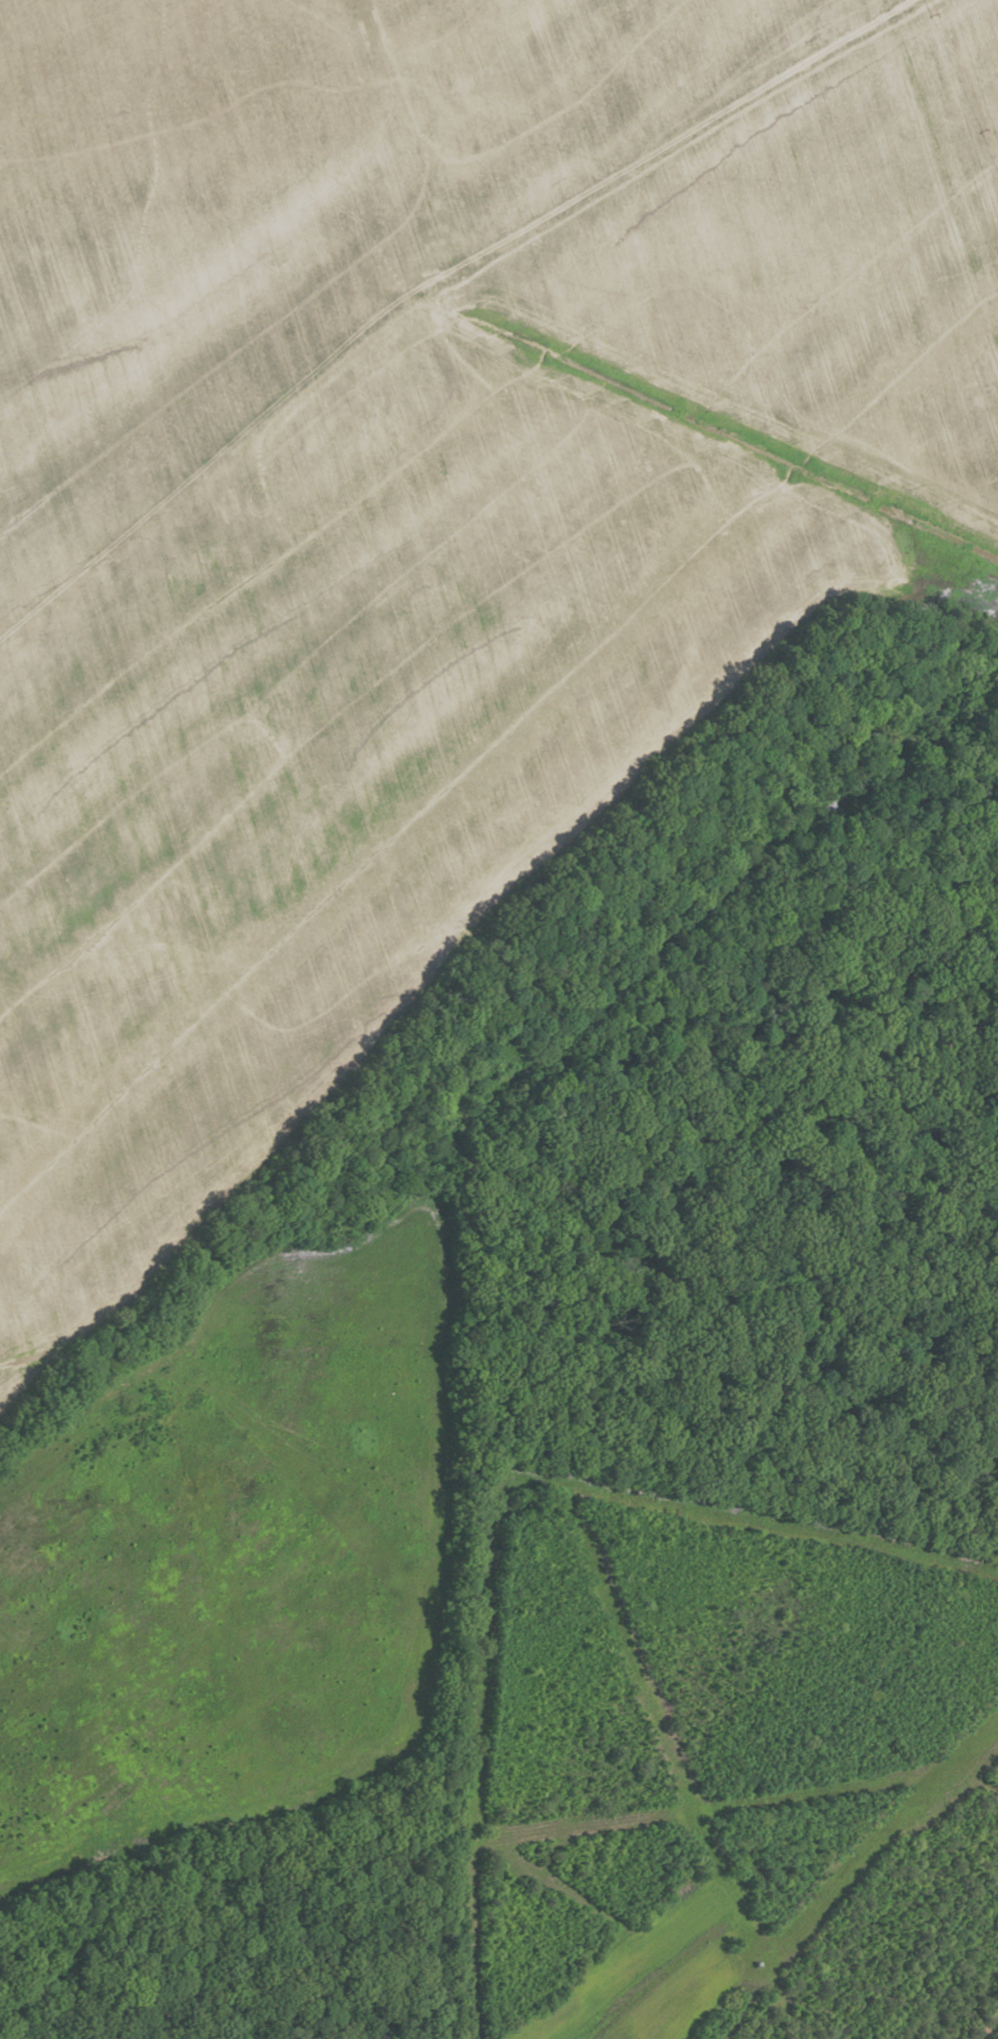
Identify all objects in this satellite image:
road: (682, 138)

